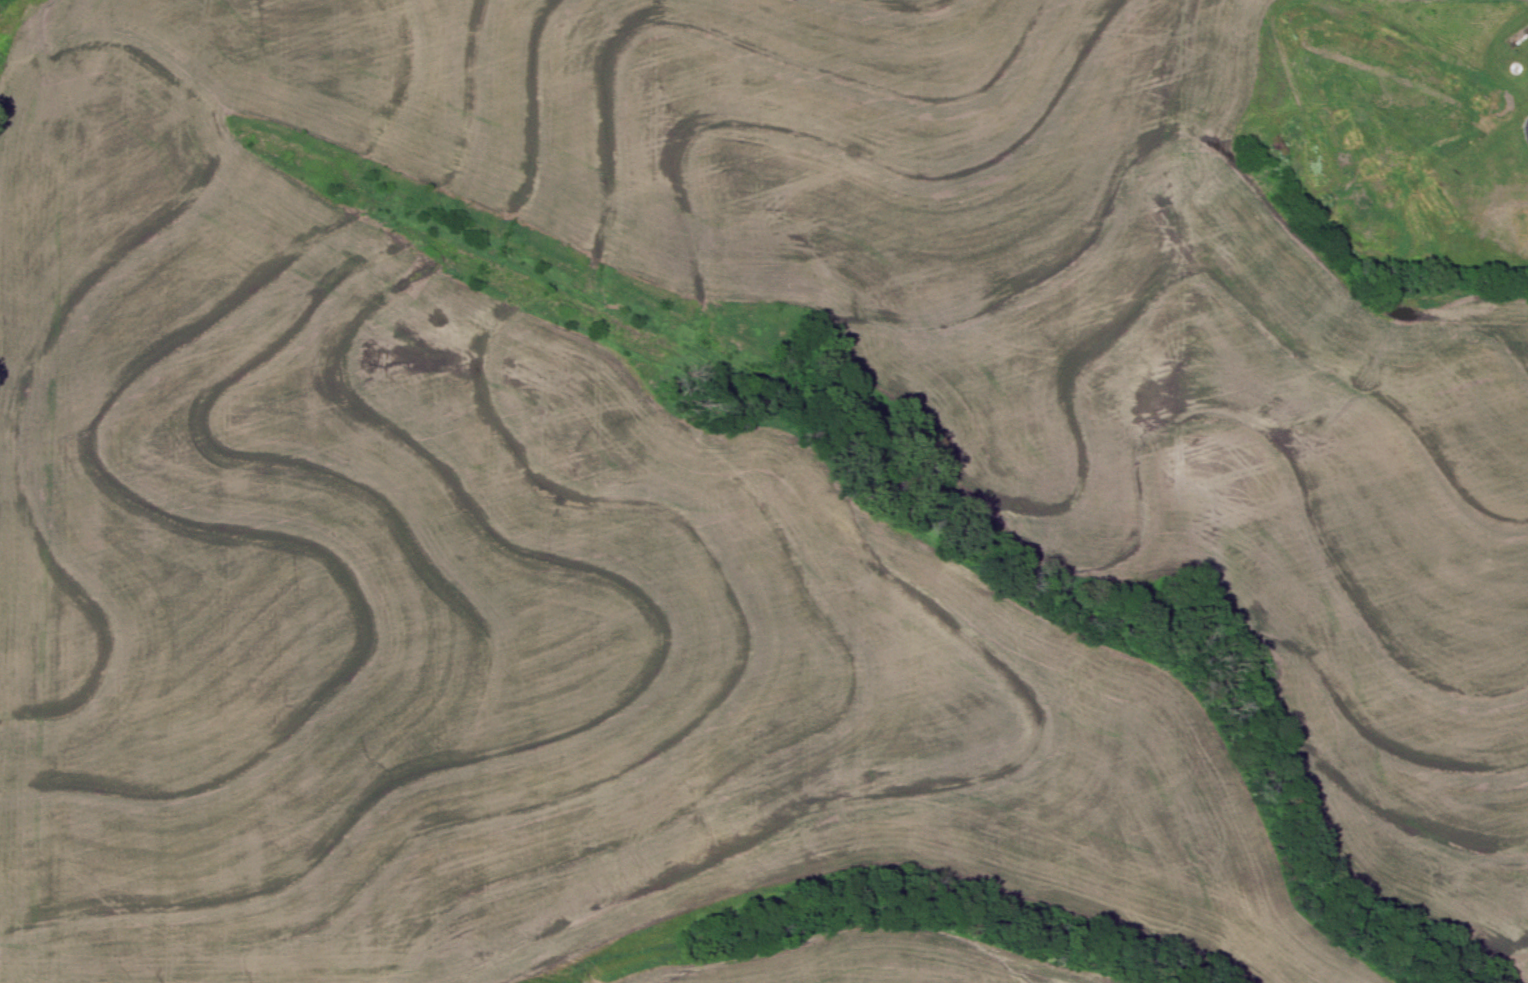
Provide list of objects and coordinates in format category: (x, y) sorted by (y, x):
building: (1523, 217)
crop: (712, 496)
crop: (883, 963)

